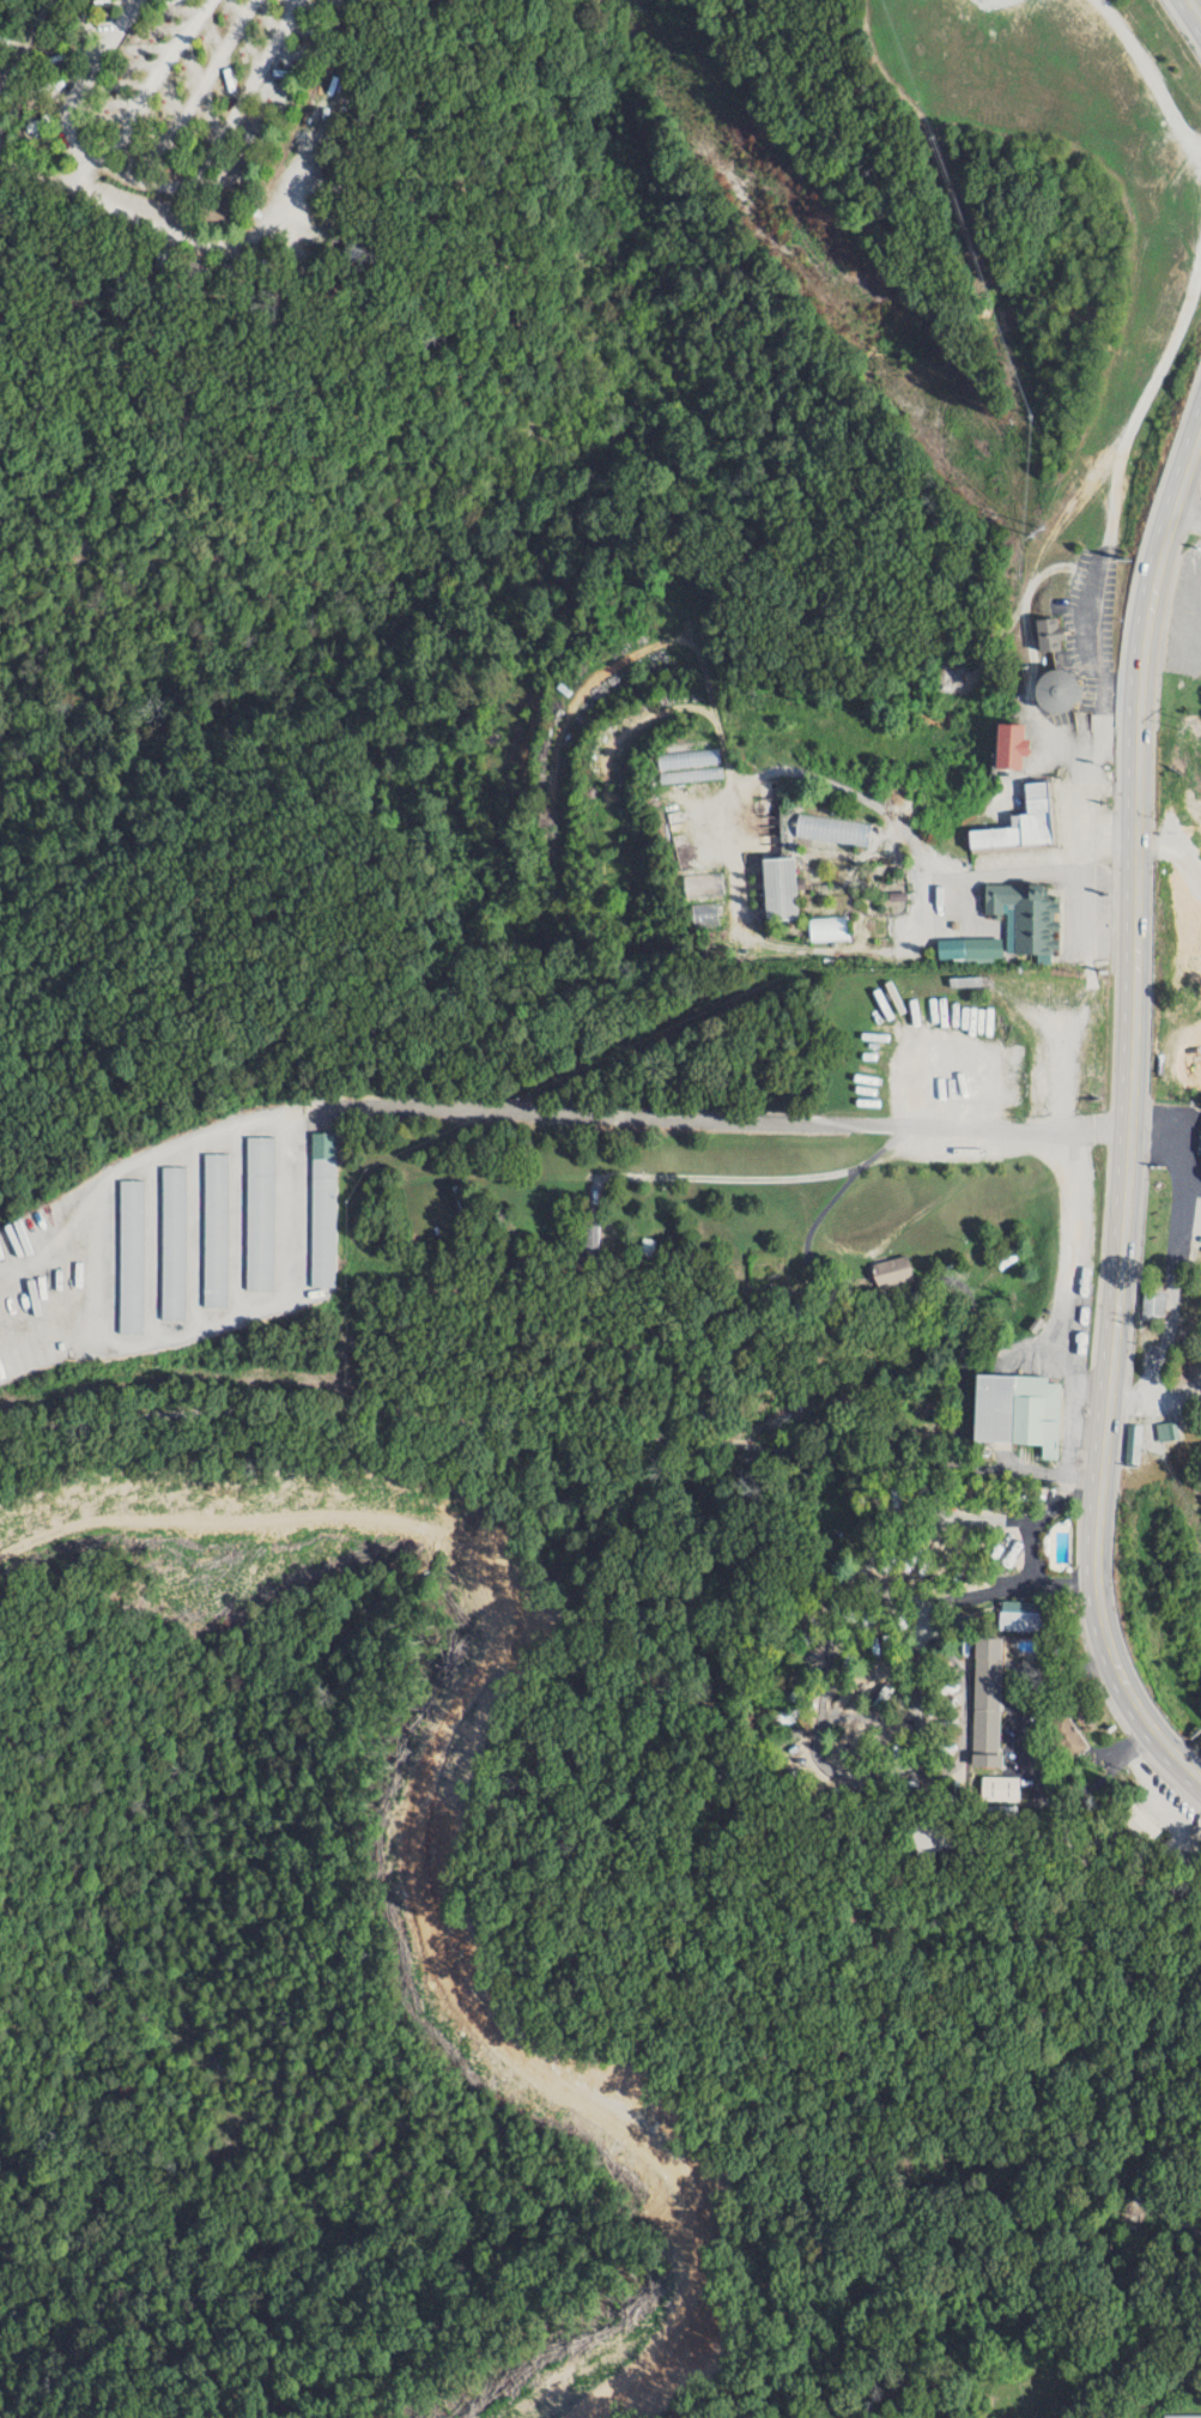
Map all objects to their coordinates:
road: (1195, 8)
road: (1145, 74)
road: (157, 86)
road: (207, 93)
road: (226, 150)
road: (199, 256)
power tower: (994, 478)
road: (1184, 506)
building: (1048, 635)
building: (1055, 691)
power tower: (1189, 726)
building: (1009, 744)
building: (1020, 822)
building: (831, 829)
building: (777, 887)
building: (1024, 917)
building: (970, 948)
road: (1128, 1112)
road: (796, 1120)
building: (322, 1209)
building: (259, 1213)
building: (214, 1229)
building: (172, 1243)
building: (131, 1256)
road: (1173, 1257)
building: (890, 1270)
road: (1074, 1273)
building: (1152, 1301)
building: (1015, 1410)
road: (551, 1423)
road: (1030, 1541)
road: (968, 1591)
building: (1019, 1615)
building: (984, 1701)
building: (1064, 1735)
building: (996, 1788)
building: (1138, 1824)
building: (1181, 2416)

